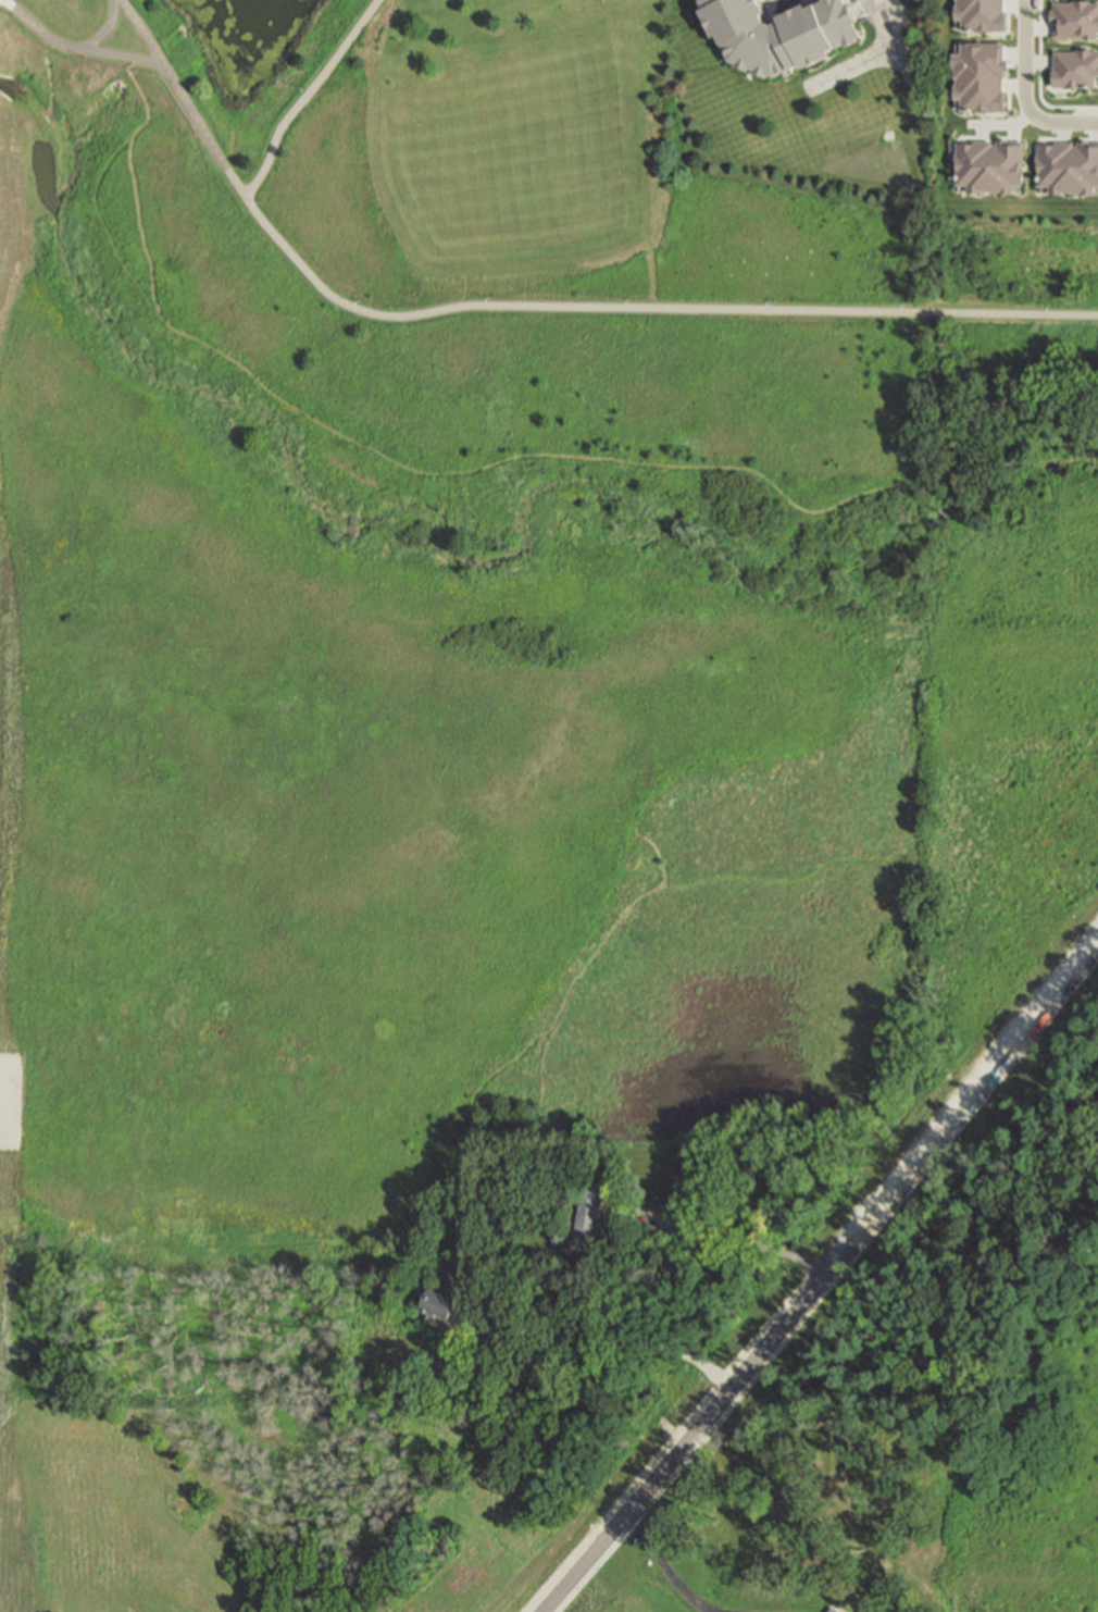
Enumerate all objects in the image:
road: (863, 10)
building: (981, 15)
building: (1076, 20)
road: (105, 28)
road: (140, 33)
building: (781, 34)
road: (54, 41)
parking lot: (888, 50)
road: (876, 57)
road: (1025, 57)
building: (1075, 67)
building: (980, 77)
road: (1041, 79)
road: (305, 96)
road: (1037, 115)
building: (988, 165)
building: (1068, 168)
park: (627, 206)
road: (548, 305)
road: (484, 466)
road: (7, 1102)
parking lot: (11, 1102)
building: (590, 1215)
building: (650, 1232)
road: (727, 1237)
road: (821, 1278)
building: (445, 1302)
road: (620, 1344)
road: (665, 1566)
building: (833, 1610)

